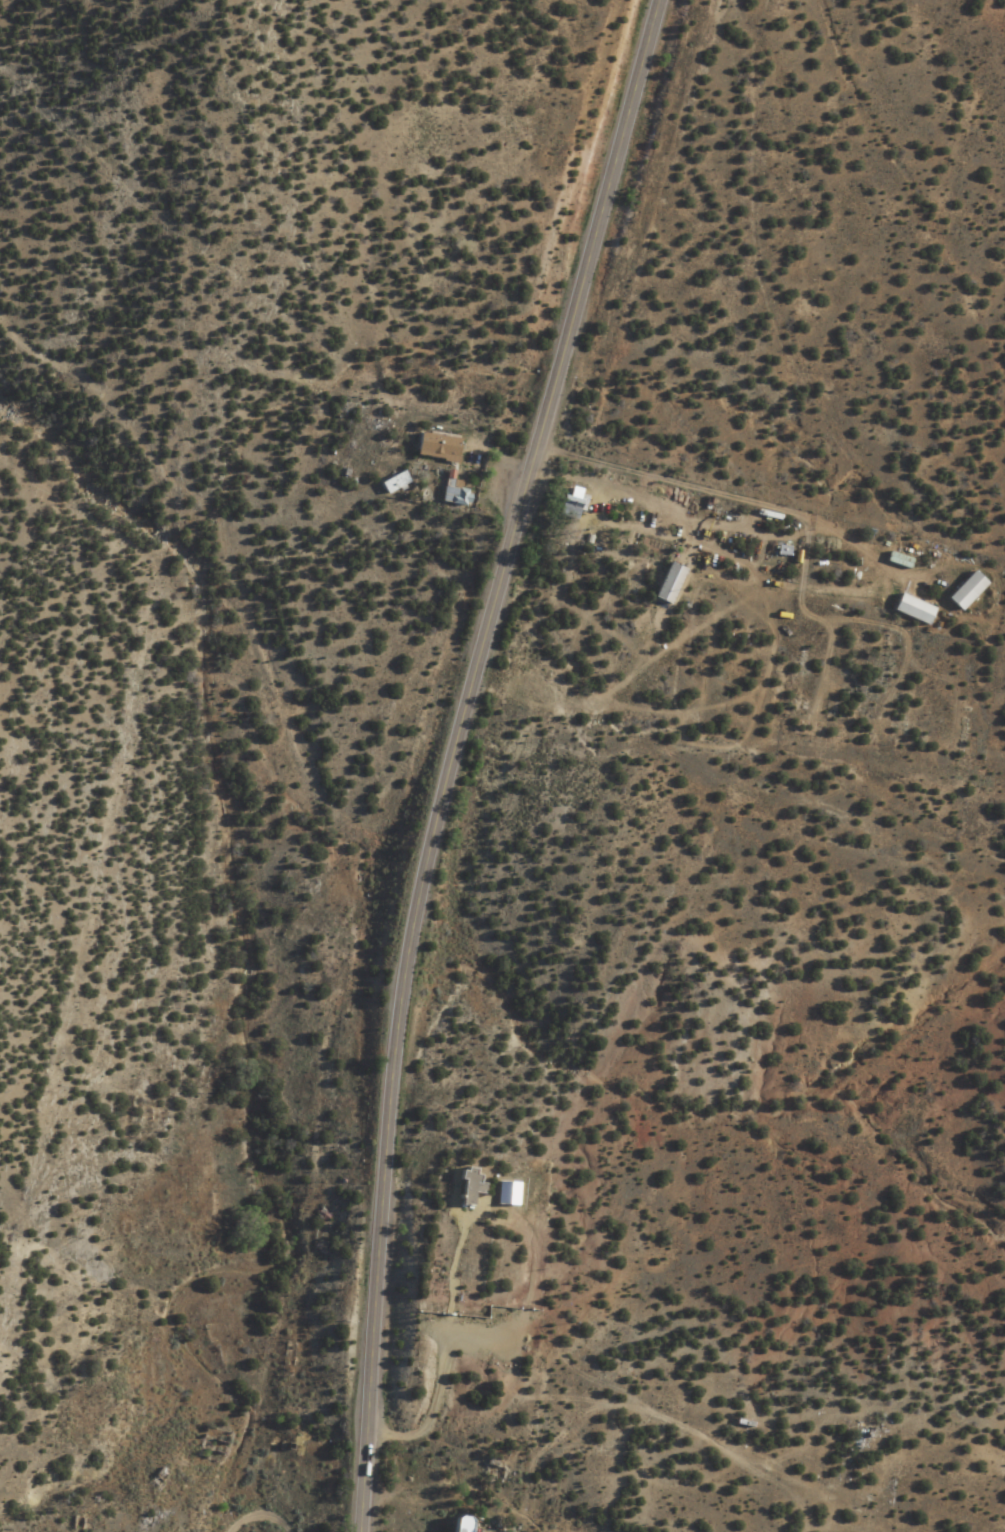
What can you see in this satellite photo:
road: (607, 188)
building: (435, 445)
building: (392, 483)
building: (451, 492)
road: (760, 502)
building: (569, 507)
building: (783, 551)
road: (405, 945)
building: (466, 1185)
road: (450, 1265)
park: (477, 1268)
parking lot: (504, 1336)
road: (431, 1408)
road: (261, 1515)
building: (457, 1524)

